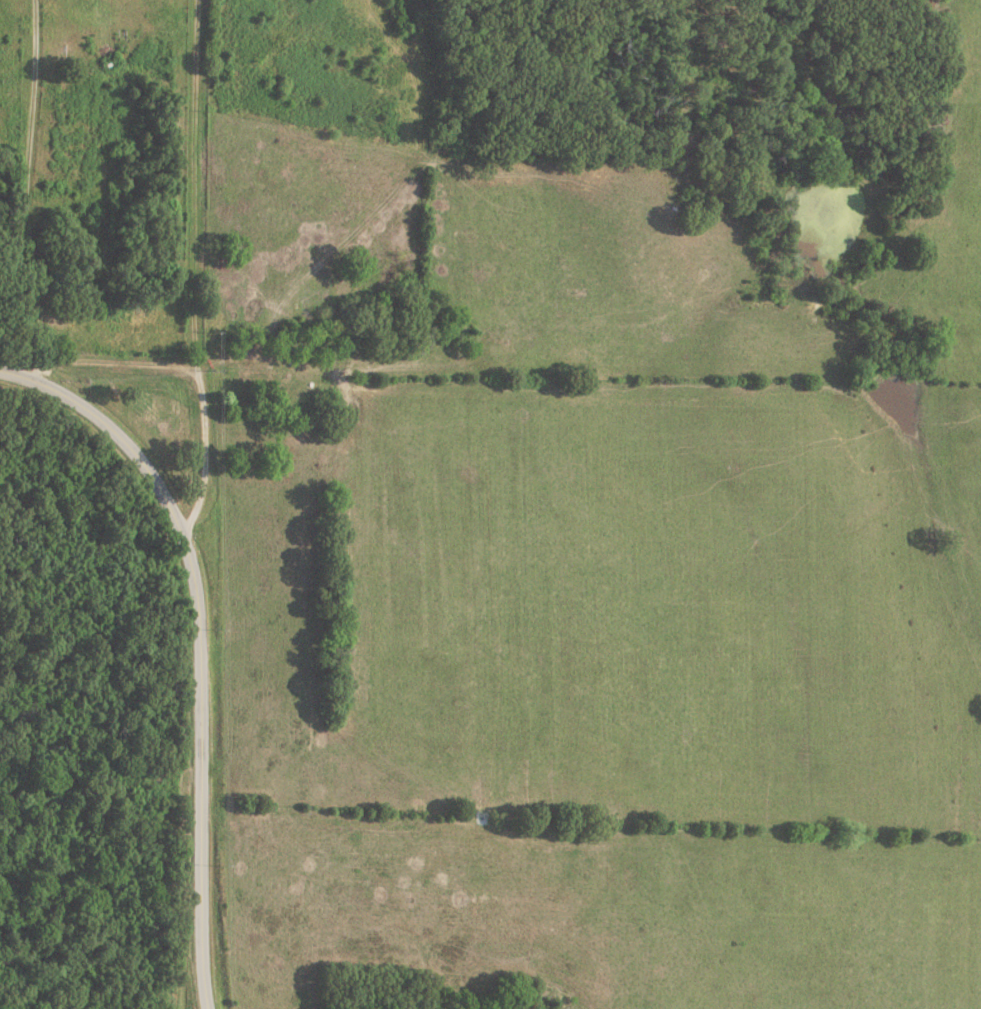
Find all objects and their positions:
road: (25, 191)
road: (194, 269)
road: (117, 359)
road: (199, 642)

